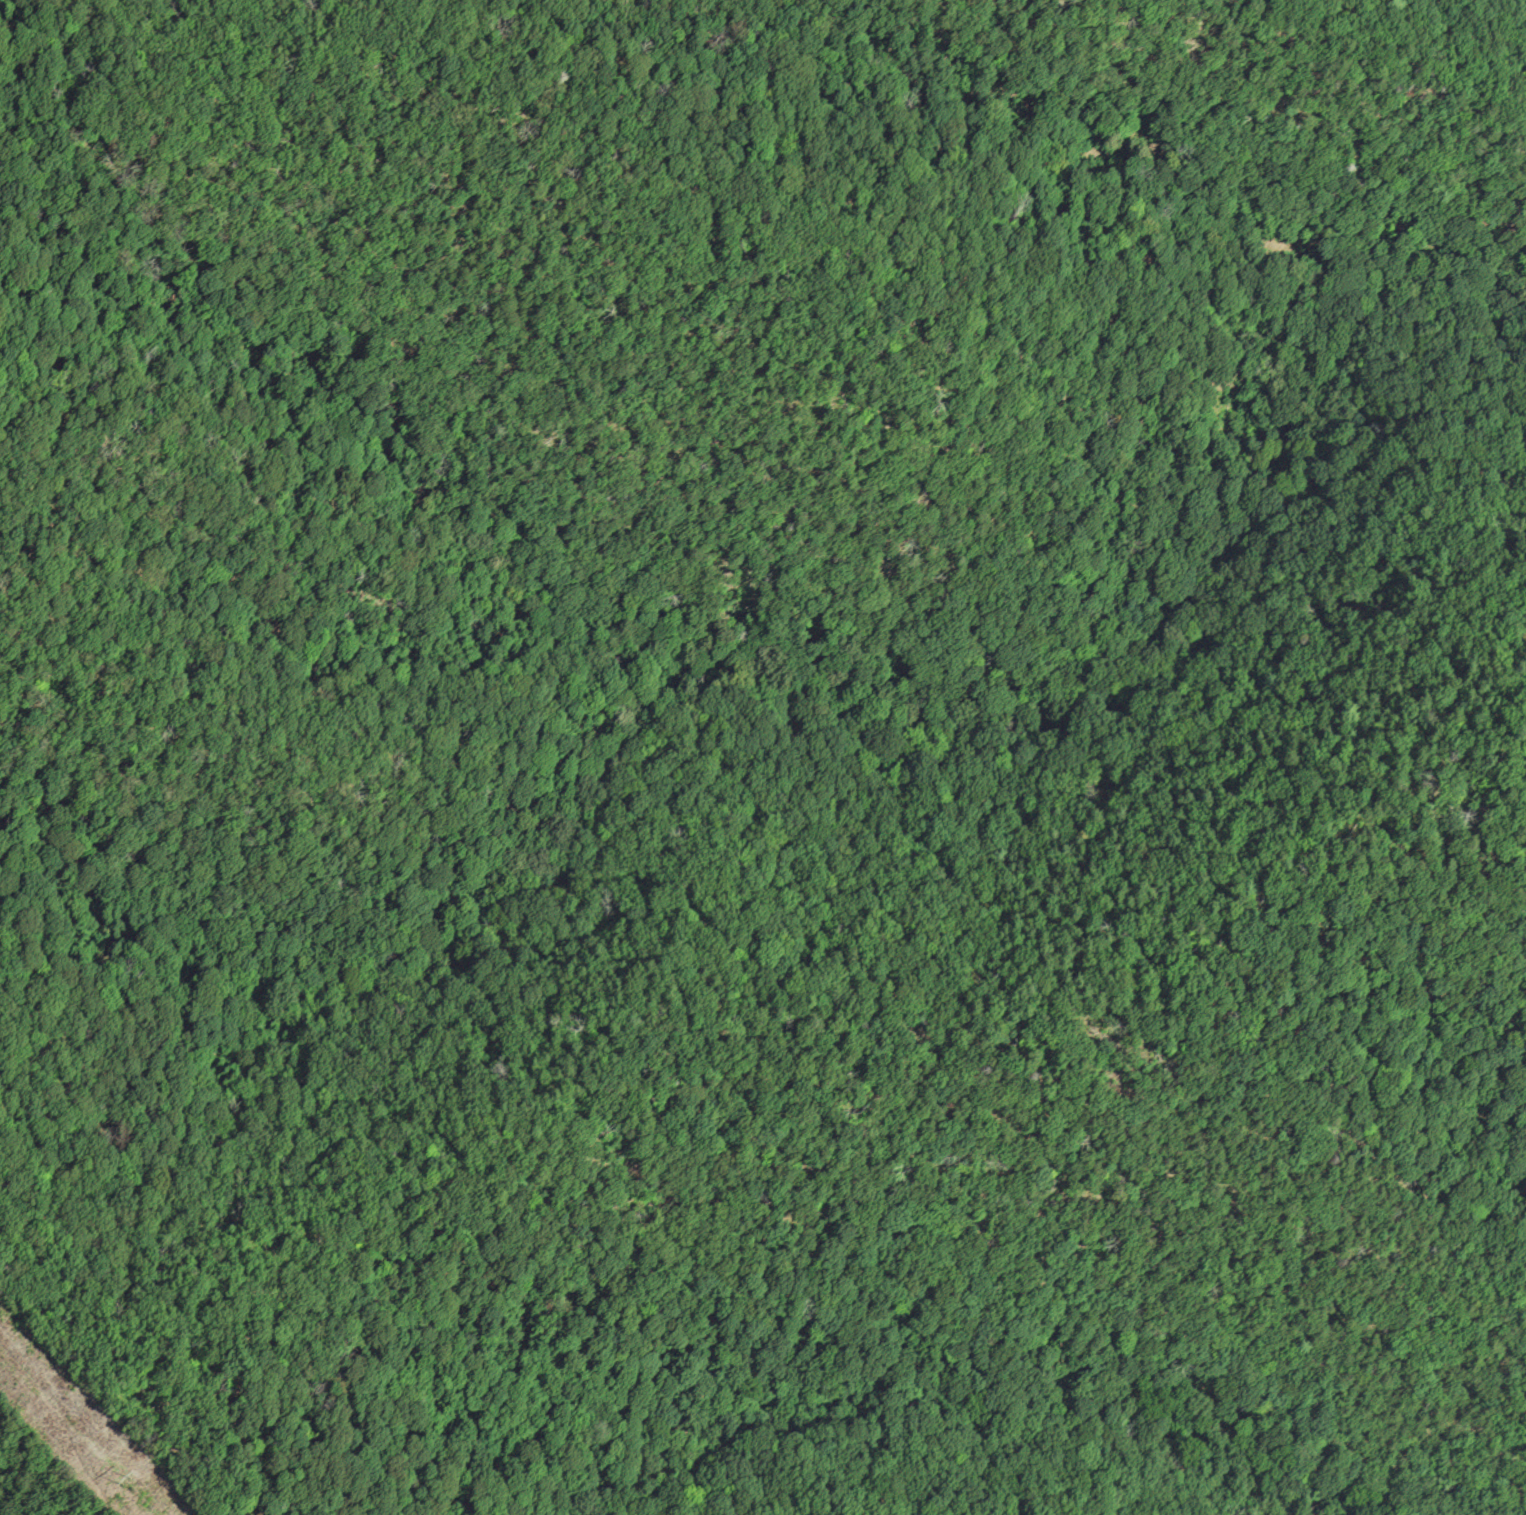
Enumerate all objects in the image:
power tower: (127, 1480)

